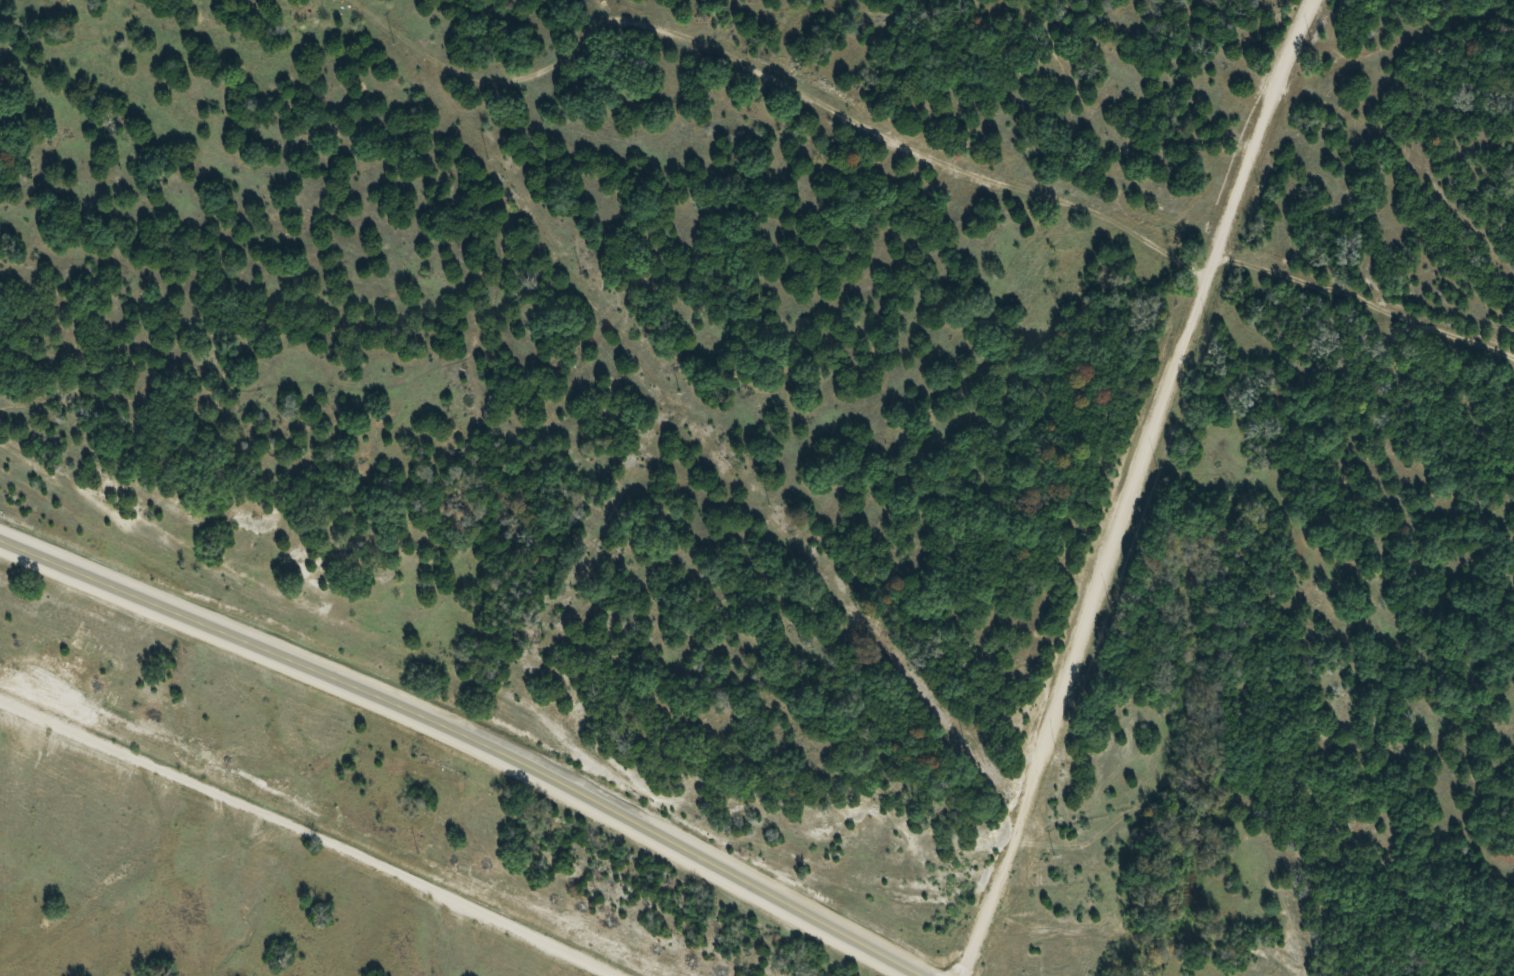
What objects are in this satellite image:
park: (831, 430)
road: (1129, 485)
road: (470, 735)
road: (314, 832)

